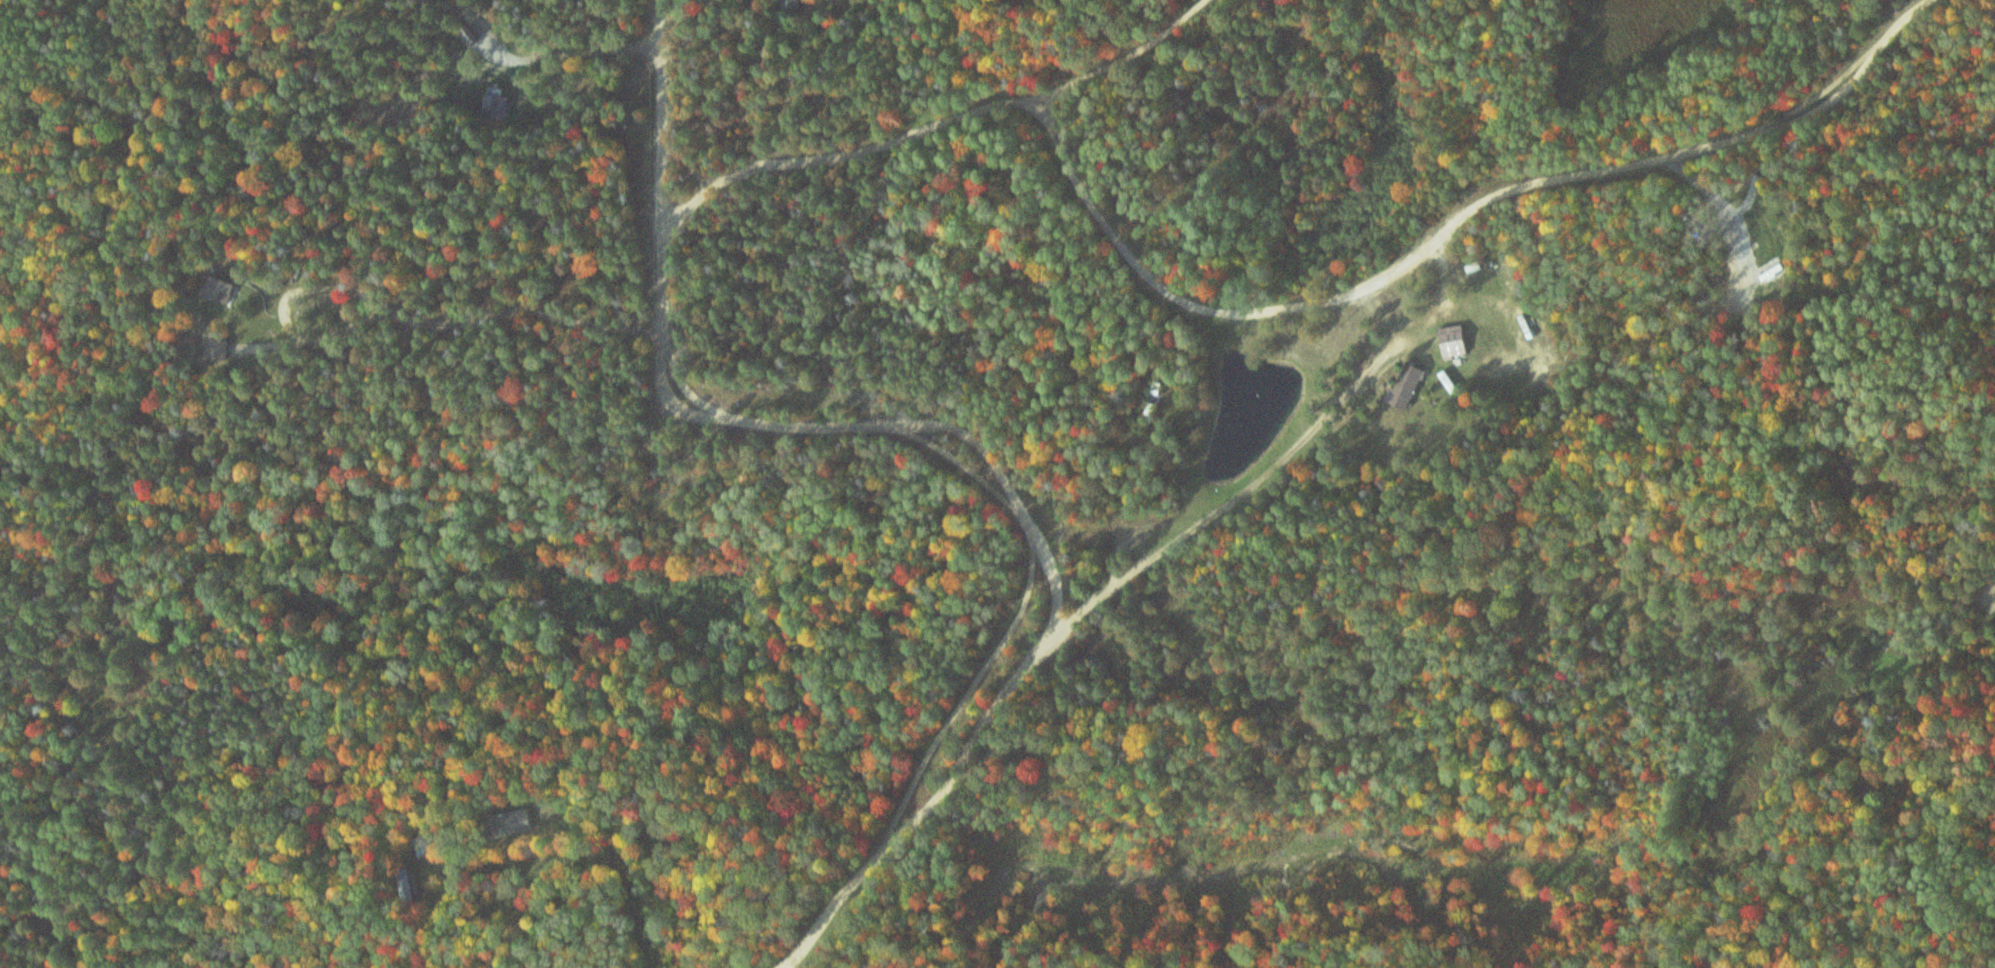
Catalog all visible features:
building: (793, 4)
building: (496, 106)
road: (669, 114)
road: (937, 128)
road: (1463, 219)
building: (1765, 219)
building: (1474, 268)
building: (224, 291)
building: (1522, 327)
building: (1452, 341)
building: (218, 346)
building: (1408, 386)
building: (1154, 402)
road: (1035, 516)
road: (1031, 578)
building: (510, 822)
road: (651, 903)

